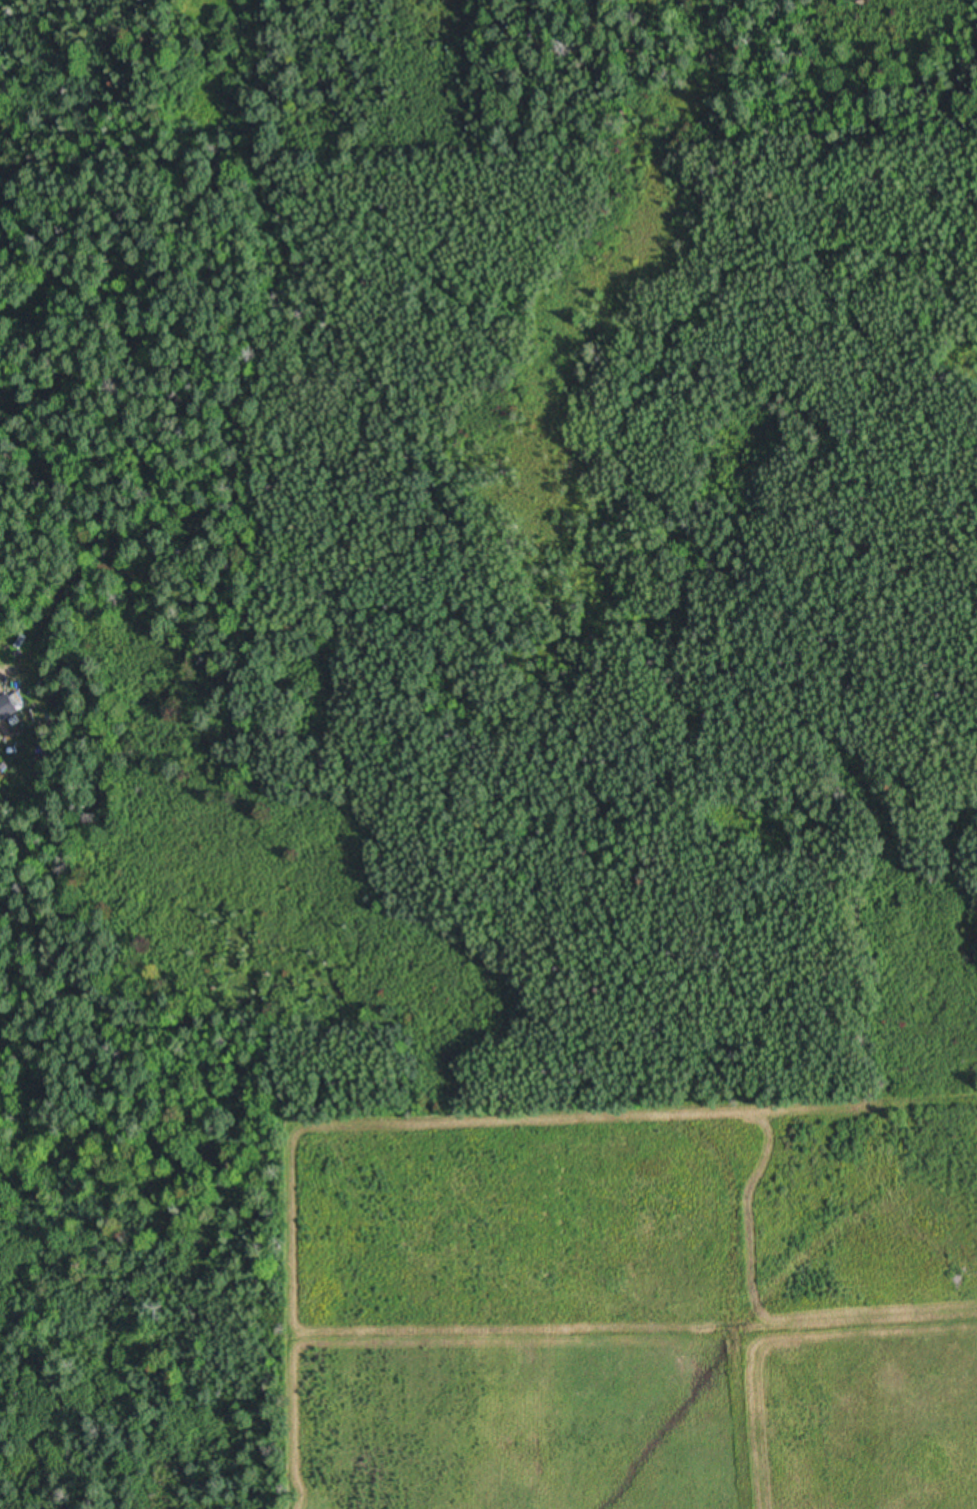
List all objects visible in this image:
building: (9, 710)
building: (1, 733)

